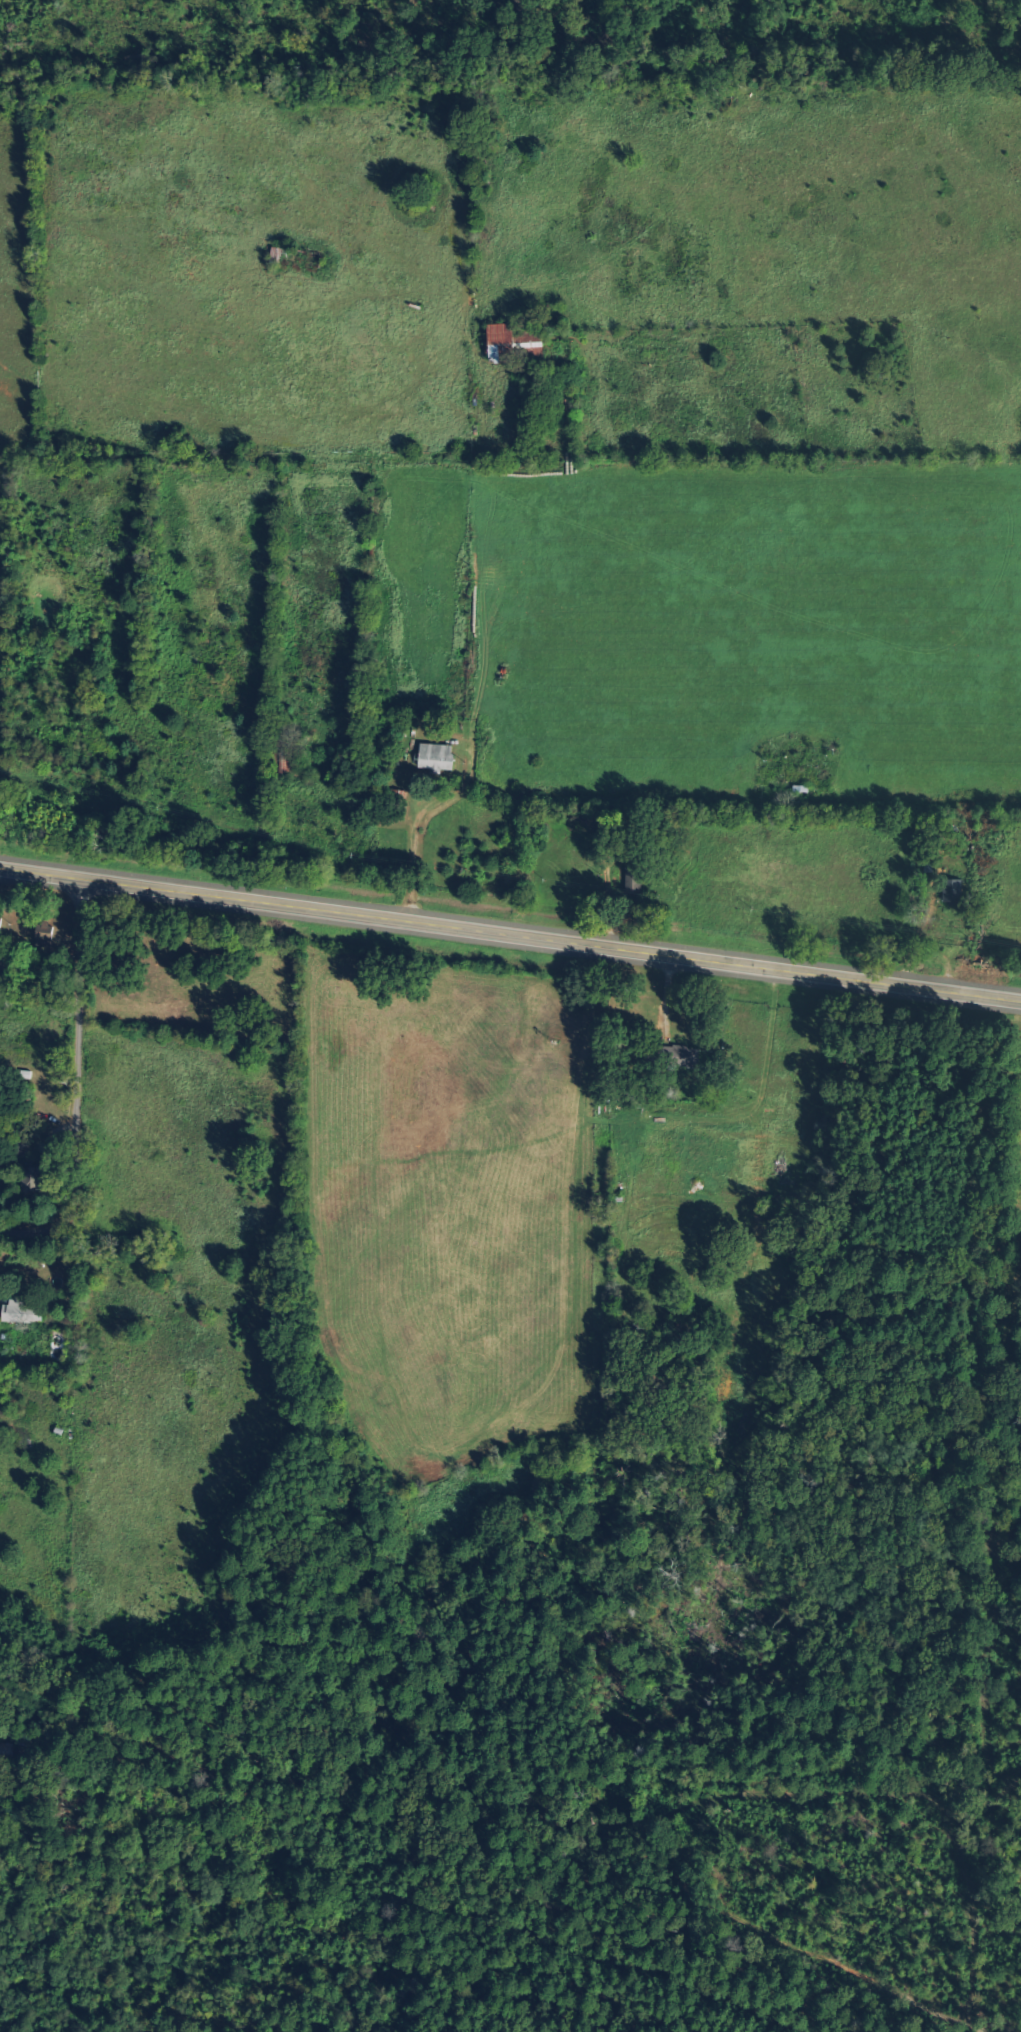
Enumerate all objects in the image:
building: (502, 342)
building: (436, 756)
building: (952, 890)
building: (0, 921)
road: (510, 930)
building: (44, 933)
building: (685, 1055)
road: (88, 1091)
building: (35, 1177)
building: (21, 1311)

